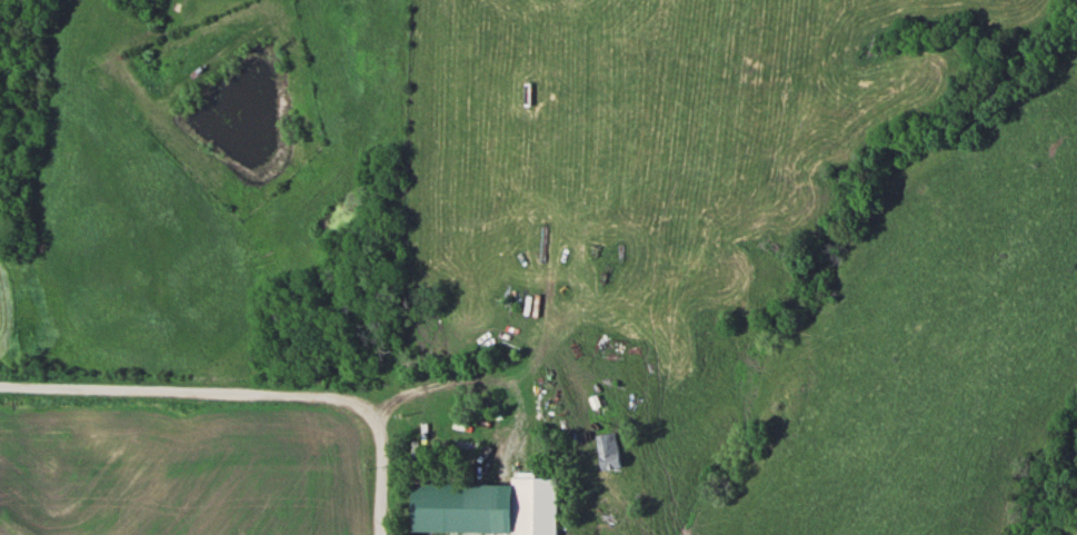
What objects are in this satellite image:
road: (246, 394)
building: (539, 506)
building: (489, 507)
building: (438, 508)

